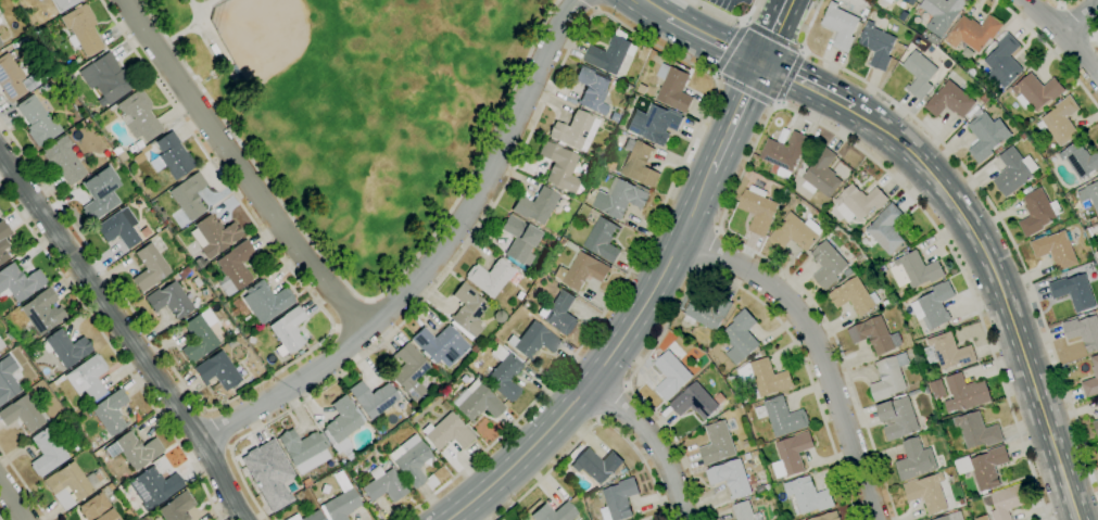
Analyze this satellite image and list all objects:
building: (888, 1)
building: (910, 2)
building: (64, 4)
road: (205, 4)
parking lot: (733, 4)
road: (1063, 4)
road: (590, 5)
road: (652, 7)
building: (866, 12)
building: (942, 13)
building: (904, 16)
road: (1080, 16)
road: (609, 17)
road: (730, 20)
road: (1078, 21)
road: (194, 25)
building: (840, 26)
building: (81, 29)
road: (774, 30)
building: (973, 33)
road: (1065, 34)
park: (263, 35)
road: (774, 35)
road: (711, 37)
road: (1095, 37)
building: (0, 45)
building: (878, 46)
road: (731, 48)
road: (1050, 51)
building: (610, 53)
traffic signals: (761, 61)
building: (1002, 63)
building: (919, 74)
building: (43, 75)
road: (788, 75)
building: (106, 78)
building: (12, 79)
building: (68, 79)
building: (43, 88)
building: (673, 88)
road: (808, 88)
building: (593, 89)
building: (641, 89)
road: (745, 90)
building: (1036, 91)
building: (984, 98)
building: (949, 100)
park: (366, 102)
building: (112, 107)
road: (787, 107)
building: (972, 111)
building: (138, 115)
building: (615, 117)
building: (37, 122)
building: (1060, 122)
building: (653, 124)
building: (575, 130)
building: (986, 136)
building: (1023, 137)
road: (722, 148)
building: (998, 150)
building: (118, 153)
building: (784, 153)
building: (172, 156)
building: (64, 160)
building: (1080, 160)
building: (639, 162)
building: (128, 163)
building: (609, 165)
building: (558, 167)
road: (239, 169)
building: (1013, 172)
building: (821, 174)
building: (100, 193)
building: (1089, 194)
building: (189, 195)
building: (619, 199)
building: (858, 202)
building: (535, 205)
road: (989, 206)
building: (757, 208)
building: (1037, 212)
building: (0, 213)
building: (1093, 220)
building: (1097, 226)
building: (118, 228)
building: (886, 229)
building: (795, 232)
building: (214, 234)
building: (519, 240)
building: (603, 240)
building: (3, 241)
building: (1056, 250)
road: (709, 251)
road: (432, 259)
building: (829, 262)
building: (199, 263)
building: (149, 267)
building: (235, 267)
building: (914, 270)
building: (185, 271)
building: (581, 271)
building: (533, 272)
road: (707, 274)
building: (492, 277)
building: (20, 281)
building: (197, 281)
building: (1074, 292)
road: (999, 295)
road: (361, 296)
building: (854, 296)
building: (168, 300)
building: (266, 301)
building: (886, 304)
building: (526, 305)
building: (933, 305)
building: (42, 312)
building: (467, 312)
building: (707, 312)
road: (349, 313)
building: (558, 313)
building: (498, 316)
building: (905, 329)
building: (288, 330)
building: (1083, 331)
road: (125, 333)
building: (9, 335)
building: (199, 335)
building: (874, 335)
building: (741, 337)
building: (495, 340)
building: (533, 341)
building: (231, 343)
building: (1, 344)
building: (440, 345)
building: (65, 347)
road: (114, 350)
building: (474, 350)
road: (816, 350)
building: (946, 352)
building: (684, 360)
road: (292, 364)
building: (695, 370)
building: (217, 371)
building: (408, 371)
building: (504, 373)
building: (668, 373)
building: (478, 376)
building: (888, 377)
building: (88, 378)
building: (769, 378)
building: (8, 379)
building: (1091, 381)
building: (922, 384)
building: (937, 389)
building: (919, 391)
building: (46, 392)
road: (582, 392)
building: (966, 393)
building: (373, 398)
building: (749, 398)
building: (1097, 401)
building: (694, 402)
building: (476, 403)
road: (614, 404)
building: (444, 406)
building: (111, 413)
building: (21, 414)
building: (781, 417)
building: (897, 418)
building: (342, 426)
road: (591, 427)
building: (1096, 427)
road: (217, 429)
building: (924, 430)
building: (975, 431)
building: (446, 432)
road: (653, 441)
building: (717, 443)
building: (745, 443)
building: (134, 449)
building: (304, 449)
building: (47, 452)
building: (792, 455)
building: (412, 460)
building: (914, 460)
building: (596, 465)
building: (985, 467)
building: (623, 471)
building: (268, 473)
building: (818, 474)
building: (617, 475)
building: (730, 478)
building: (305, 483)
road: (24, 484)
building: (68, 484)
building: (383, 485)
building: (154, 486)
building: (762, 489)
building: (926, 493)
building: (807, 497)
building: (617, 499)
building: (1007, 502)
road: (11, 503)
building: (341, 503)
building: (177, 507)
building: (97, 508)
building: (745, 511)
building: (554, 512)
building: (307, 516)
road: (0, 517)
building: (828, 517)
building: (951, 517)
building: (144, 518)
building: (982, 518)
building: (521, 519)
building: (523, 519)
building: (527, 519)

